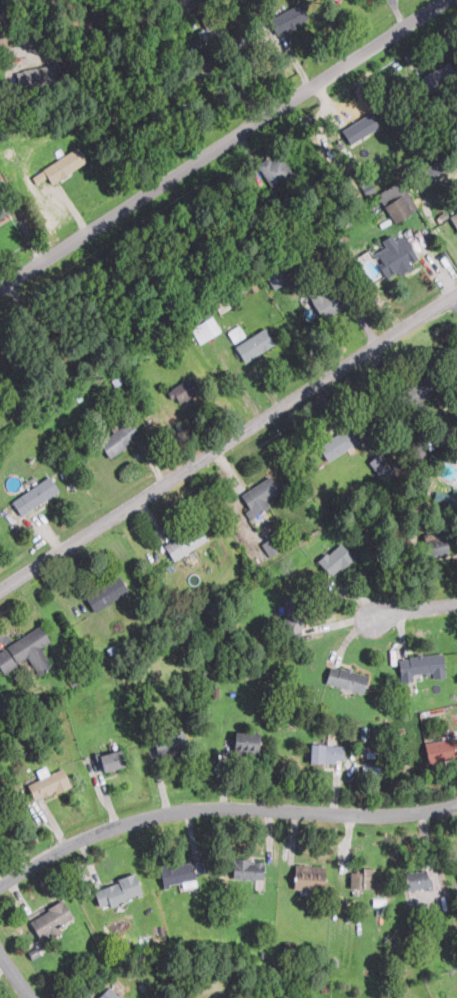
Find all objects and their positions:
building: (287, 19)
building: (204, 62)
building: (35, 76)
building: (436, 77)
building: (360, 128)
road: (227, 148)
building: (63, 165)
building: (433, 169)
building: (274, 170)
building: (395, 201)
building: (2, 210)
building: (454, 219)
building: (395, 256)
building: (276, 277)
building: (325, 300)
building: (204, 329)
building: (254, 344)
building: (182, 390)
building: (417, 391)
building: (118, 438)
road: (228, 441)
building: (337, 444)
building: (382, 466)
building: (34, 496)
building: (258, 496)
building: (453, 497)
building: (184, 542)
building: (271, 545)
building: (435, 545)
building: (335, 560)
building: (105, 593)
building: (292, 616)
road: (414, 618)
building: (25, 651)
building: (420, 665)
building: (345, 679)
building: (245, 743)
building: (170, 745)
building: (441, 750)
building: (325, 753)
building: (110, 760)
building: (47, 784)
road: (219, 807)
building: (247, 869)
building: (181, 872)
building: (308, 877)
building: (362, 879)
building: (415, 880)
building: (116, 892)
building: (50, 919)
building: (290, 946)
road: (16, 974)
building: (108, 994)

